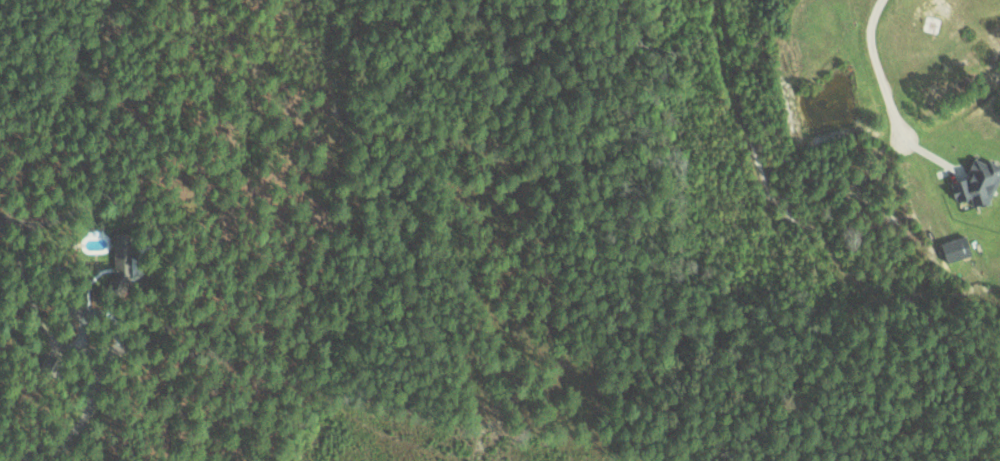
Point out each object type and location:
building: (978, 185)
building: (955, 249)
building: (121, 258)

